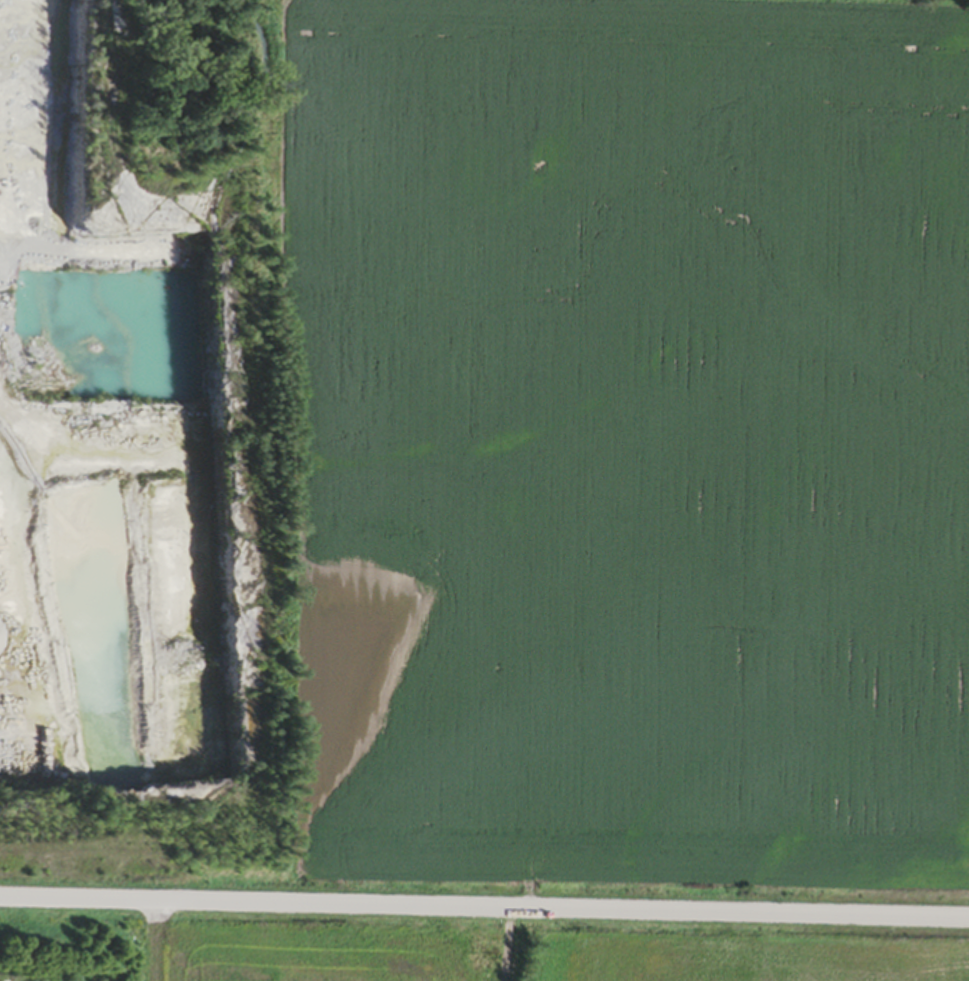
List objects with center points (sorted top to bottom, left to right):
quarry: (159, 516)
road: (484, 905)

